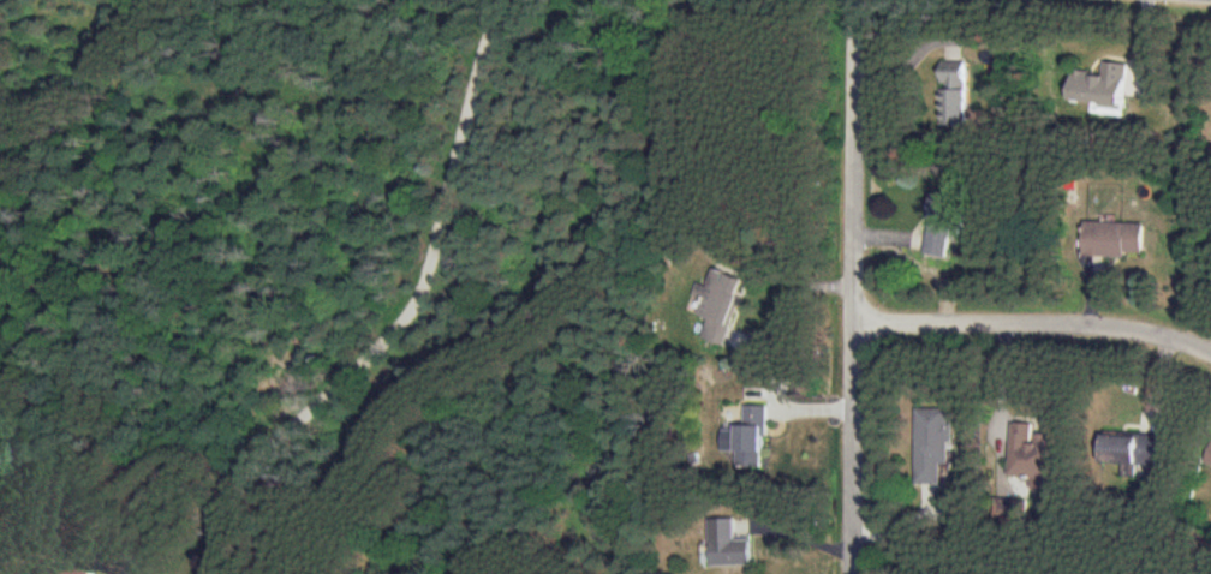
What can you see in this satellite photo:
building: (1098, 86)
building: (953, 92)
building: (1112, 238)
road: (847, 286)
building: (717, 304)
road: (1031, 323)
building: (746, 436)
building: (930, 444)
building: (1030, 450)
building: (1131, 450)
building: (1207, 461)
building: (727, 544)

